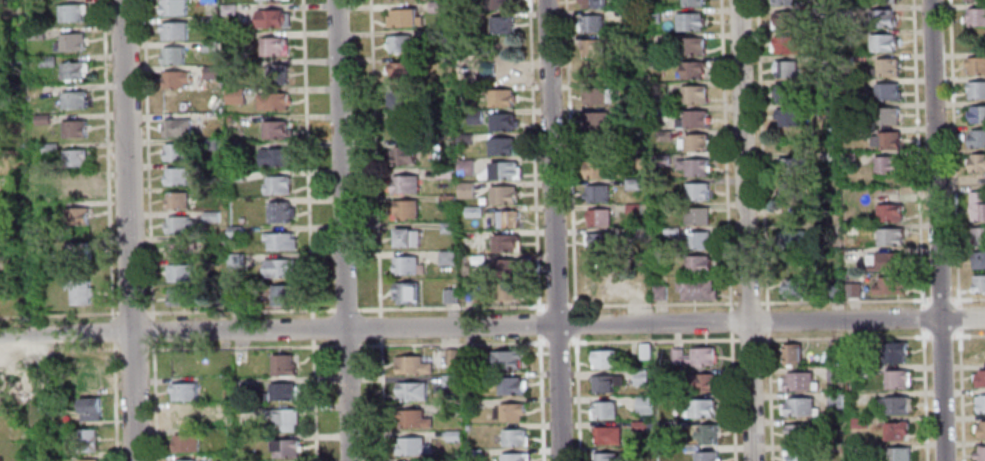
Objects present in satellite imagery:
building: (206, 0)
building: (462, 0)
building: (974, 0)
building: (887, 1)
building: (10, 2)
building: (782, 2)
building: (694, 3)
building: (501, 4)
building: (592, 4)
building: (174, 7)
building: (437, 7)
building: (229, 8)
building: (824, 9)
building: (848, 9)
building: (73, 12)
building: (654, 14)
building: (976, 16)
building: (405, 17)
building: (273, 18)
building: (886, 18)
building: (785, 19)
building: (209, 20)
building: (691, 20)
building: (591, 23)
building: (504, 24)
building: (174, 29)
building: (36, 32)
building: (233, 35)
building: (439, 35)
building: (10, 36)
building: (70, 41)
building: (885, 42)
building: (398, 43)
building: (211, 44)
building: (696, 44)
building: (787, 44)
building: (274, 45)
building: (593, 47)
building: (173, 54)
building: (47, 59)
building: (825, 59)
building: (660, 61)
building: (232, 64)
building: (975, 65)
building: (8, 66)
building: (887, 67)
building: (786, 68)
building: (694, 69)
building: (74, 70)
building: (212, 70)
building: (400, 70)
building: (279, 73)
building: (176, 78)
building: (818, 83)
building: (976, 89)
building: (888, 91)
building: (695, 93)
building: (786, 93)
building: (234, 94)
building: (597, 95)
building: (504, 97)
building: (12, 99)
building: (76, 99)
building: (399, 99)
building: (273, 100)
building: (442, 105)
building: (635, 110)
building: (660, 112)
building: (977, 113)
building: (475, 114)
building: (890, 115)
building: (790, 116)
building: (42, 118)
building: (694, 119)
building: (597, 120)
building: (504, 121)
building: (13, 125)
building: (176, 126)
building: (400, 126)
building: (75, 128)
building: (277, 128)
building: (850, 131)
building: (664, 134)
building: (464, 136)
building: (977, 137)
building: (887, 139)
building: (694, 142)
building: (503, 145)
building: (51, 147)
building: (175, 151)
road: (725, 151)
road: (762, 151)
building: (232, 152)
road: (569, 152)
road: (533, 153)
building: (405, 154)
building: (276, 156)
building: (77, 157)
road: (307, 157)
road: (374, 157)
road: (148, 158)
building: (850, 158)
road: (107, 159)
building: (637, 161)
building: (977, 162)
building: (888, 164)
building: (790, 165)
building: (465, 166)
building: (693, 166)
building: (597, 168)
building: (506, 170)
building: (445, 171)
building: (179, 175)
building: (237, 175)
building: (44, 176)
building: (6, 180)
building: (405, 183)
building: (634, 183)
building: (278, 184)
building: (74, 187)
building: (467, 189)
building: (699, 191)
building: (597, 192)
building: (505, 194)
building: (178, 199)
building: (447, 199)
building: (978, 205)
building: (634, 207)
building: (666, 207)
building: (405, 208)
building: (473, 210)
building: (281, 211)
building: (890, 212)
building: (212, 215)
building: (698, 215)
building: (600, 216)
building: (78, 217)
building: (508, 218)
building: (242, 219)
building: (176, 224)
building: (448, 226)
road: (127, 230)
road: (340, 230)
road: (553, 230)
road: (746, 230)
road: (920, 230)
road: (936, 230)
road: (956, 230)
building: (235, 231)
building: (622, 231)
building: (671, 232)
building: (980, 235)
building: (407, 236)
building: (891, 236)
building: (13, 238)
building: (700, 239)
building: (280, 240)
building: (793, 240)
building: (598, 241)
building: (505, 242)
building: (181, 247)
building: (79, 252)
building: (448, 257)
building: (661, 259)
building: (979, 259)
building: (236, 260)
building: (885, 260)
building: (700, 263)
building: (17, 264)
building: (409, 264)
building: (507, 265)
building: (281, 267)
building: (181, 272)
building: (210, 273)
building: (979, 282)
building: (889, 284)
building: (17, 285)
building: (603, 287)
building: (697, 288)
building: (793, 288)
building: (80, 289)
building: (643, 289)
building: (854, 289)
building: (508, 290)
building: (660, 291)
building: (406, 292)
building: (451, 294)
building: (467, 294)
building: (282, 295)
building: (176, 296)
road: (968, 298)
building: (235, 299)
road: (940, 299)
road: (847, 301)
road: (747, 303)
road: (652, 304)
road: (556, 305)
road: (448, 307)
road: (345, 308)
road: (240, 310)
road: (132, 312)
road: (58, 314)
road: (729, 321)
road: (766, 321)
road: (539, 323)
road: (575, 323)
road: (492, 324)
road: (379, 326)
road: (312, 328)
road: (153, 329)
road: (112, 330)
road: (941, 335)
road: (968, 335)
road: (849, 337)
road: (749, 339)
road: (653, 340)
road: (557, 341)
road: (448, 343)
road: (133, 346)
road: (237, 346)
road: (342, 346)
road: (58, 348)
building: (835, 349)
building: (851, 349)
building: (644, 351)
building: (898, 352)
building: (793, 353)
building: (468, 357)
building: (450, 358)
building: (695, 358)
building: (604, 360)
building: (506, 361)
building: (282, 366)
building: (411, 366)
building: (856, 373)
building: (834, 375)
building: (979, 377)
building: (898, 378)
building: (640, 379)
building: (798, 379)
building: (450, 381)
building: (700, 384)
building: (89, 385)
building: (607, 385)
building: (510, 387)
building: (183, 392)
building: (410, 392)
building: (282, 393)
road: (381, 399)
road: (155, 400)
road: (314, 400)
road: (732, 400)
road: (769, 400)
road: (114, 401)
road: (540, 401)
road: (576, 401)
building: (835, 401)
building: (980, 402)
building: (472, 403)
building: (49, 404)
building: (895, 404)
building: (644, 405)
building: (799, 406)
building: (700, 409)
building: (90, 410)
building: (511, 412)
building: (602, 412)
building: (184, 417)
building: (411, 420)
building: (285, 421)
building: (859, 423)
building: (638, 426)
building: (467, 427)
building: (664, 427)
building: (980, 428)
building: (896, 430)
building: (797, 432)
building: (707, 435)
building: (452, 436)
building: (607, 436)
building: (513, 438)
building: (88, 440)
building: (185, 443)
building: (412, 447)
building: (285, 449)
building: (858, 450)
building: (980, 453)
building: (899, 454)
building: (474, 455)
building: (799, 455)
building: (706, 456)
building: (607, 457)
building: (513, 458)
building: (88, 460)
building: (184, 460)
building: (453, 460)

